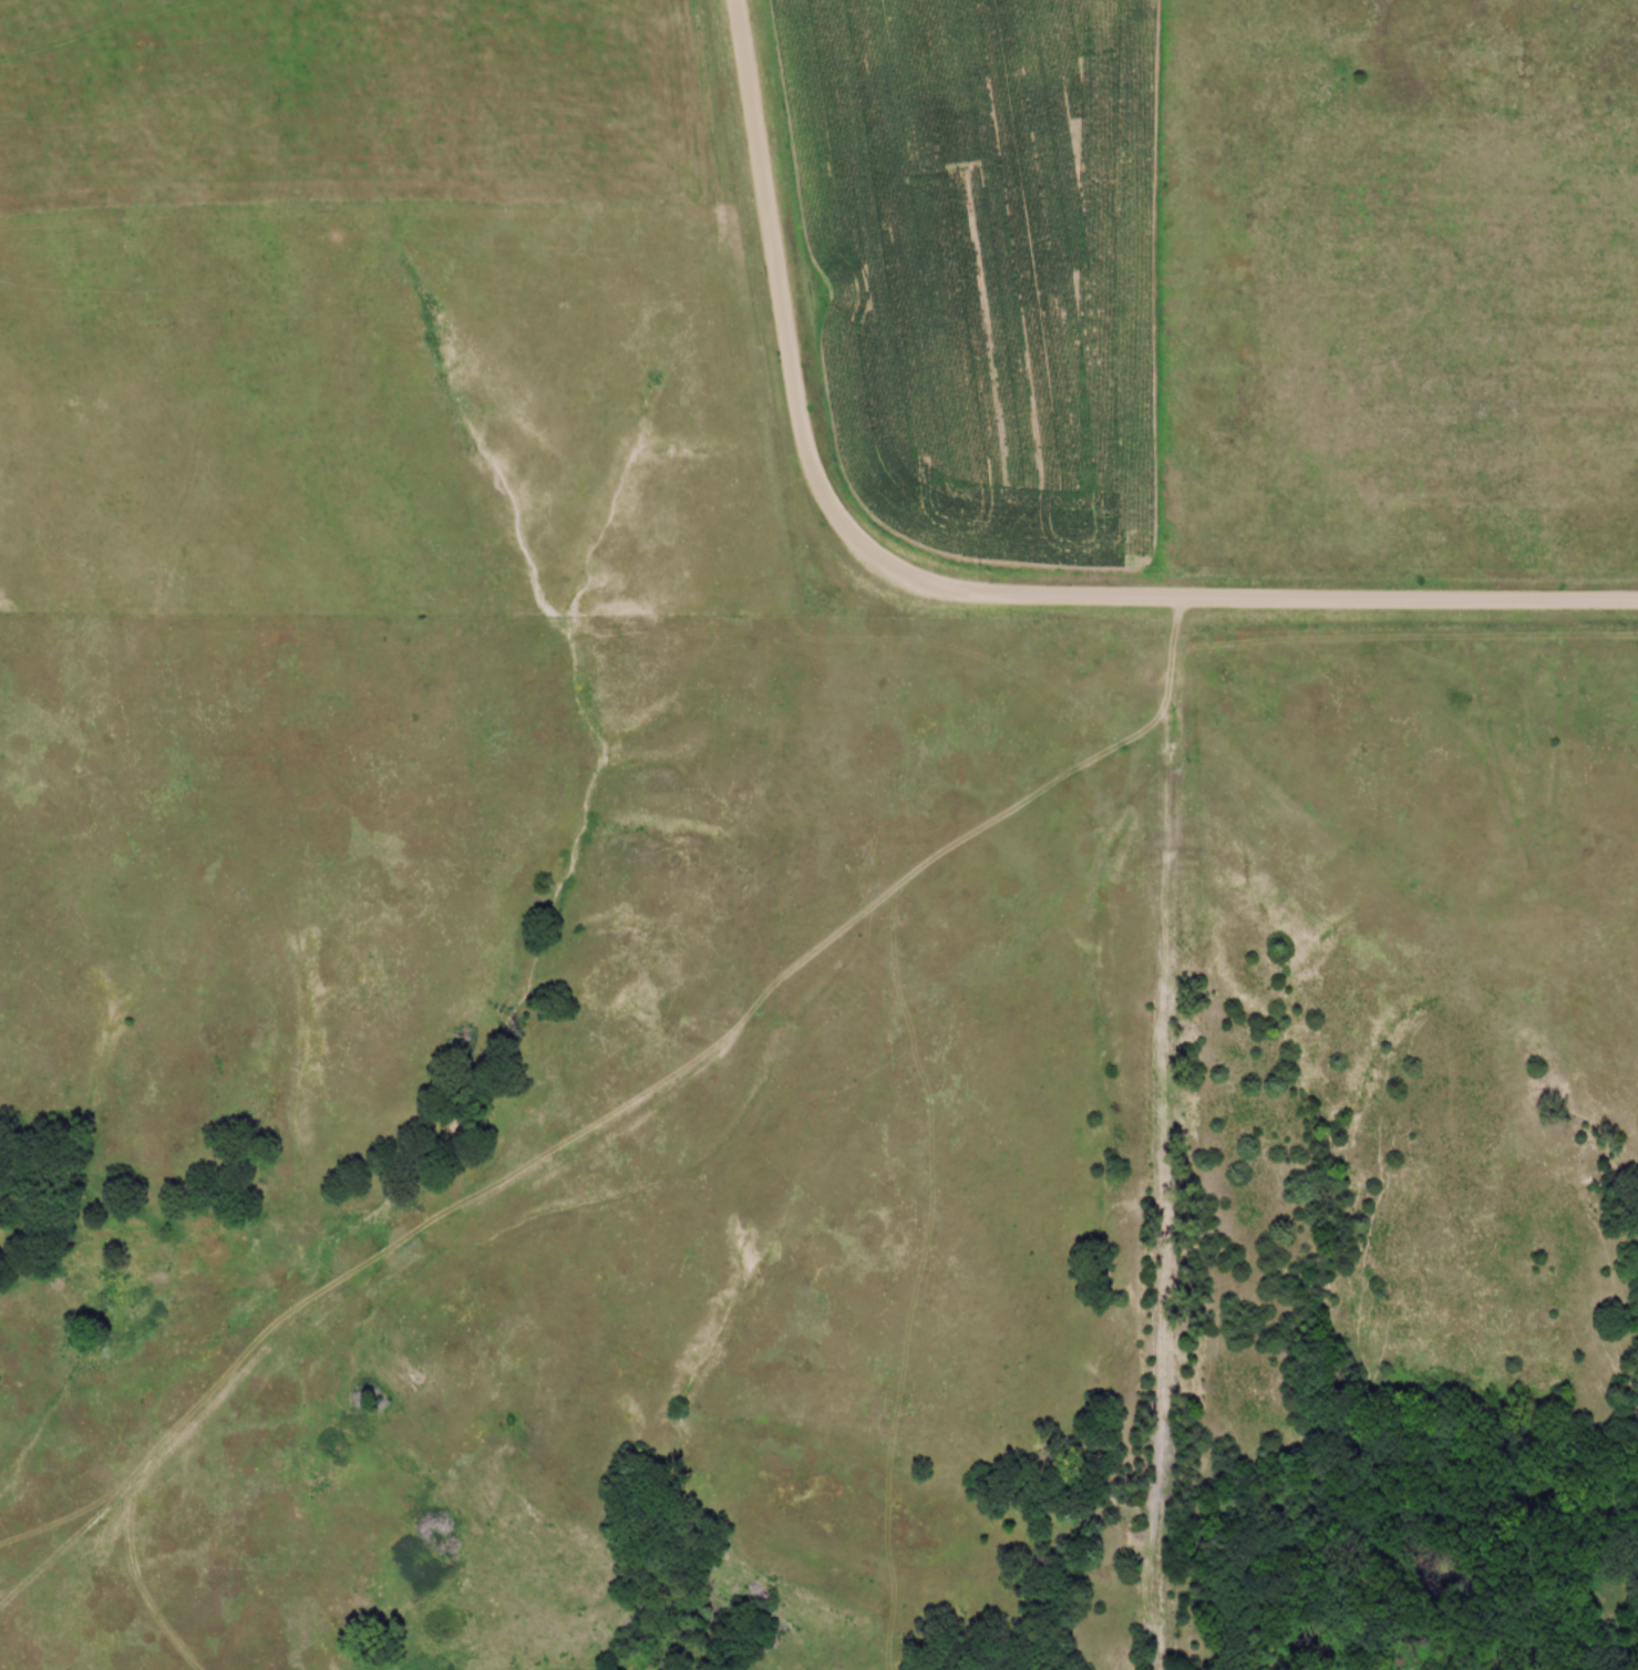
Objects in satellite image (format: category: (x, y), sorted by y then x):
road: (954, 600)
road: (1170, 1137)

